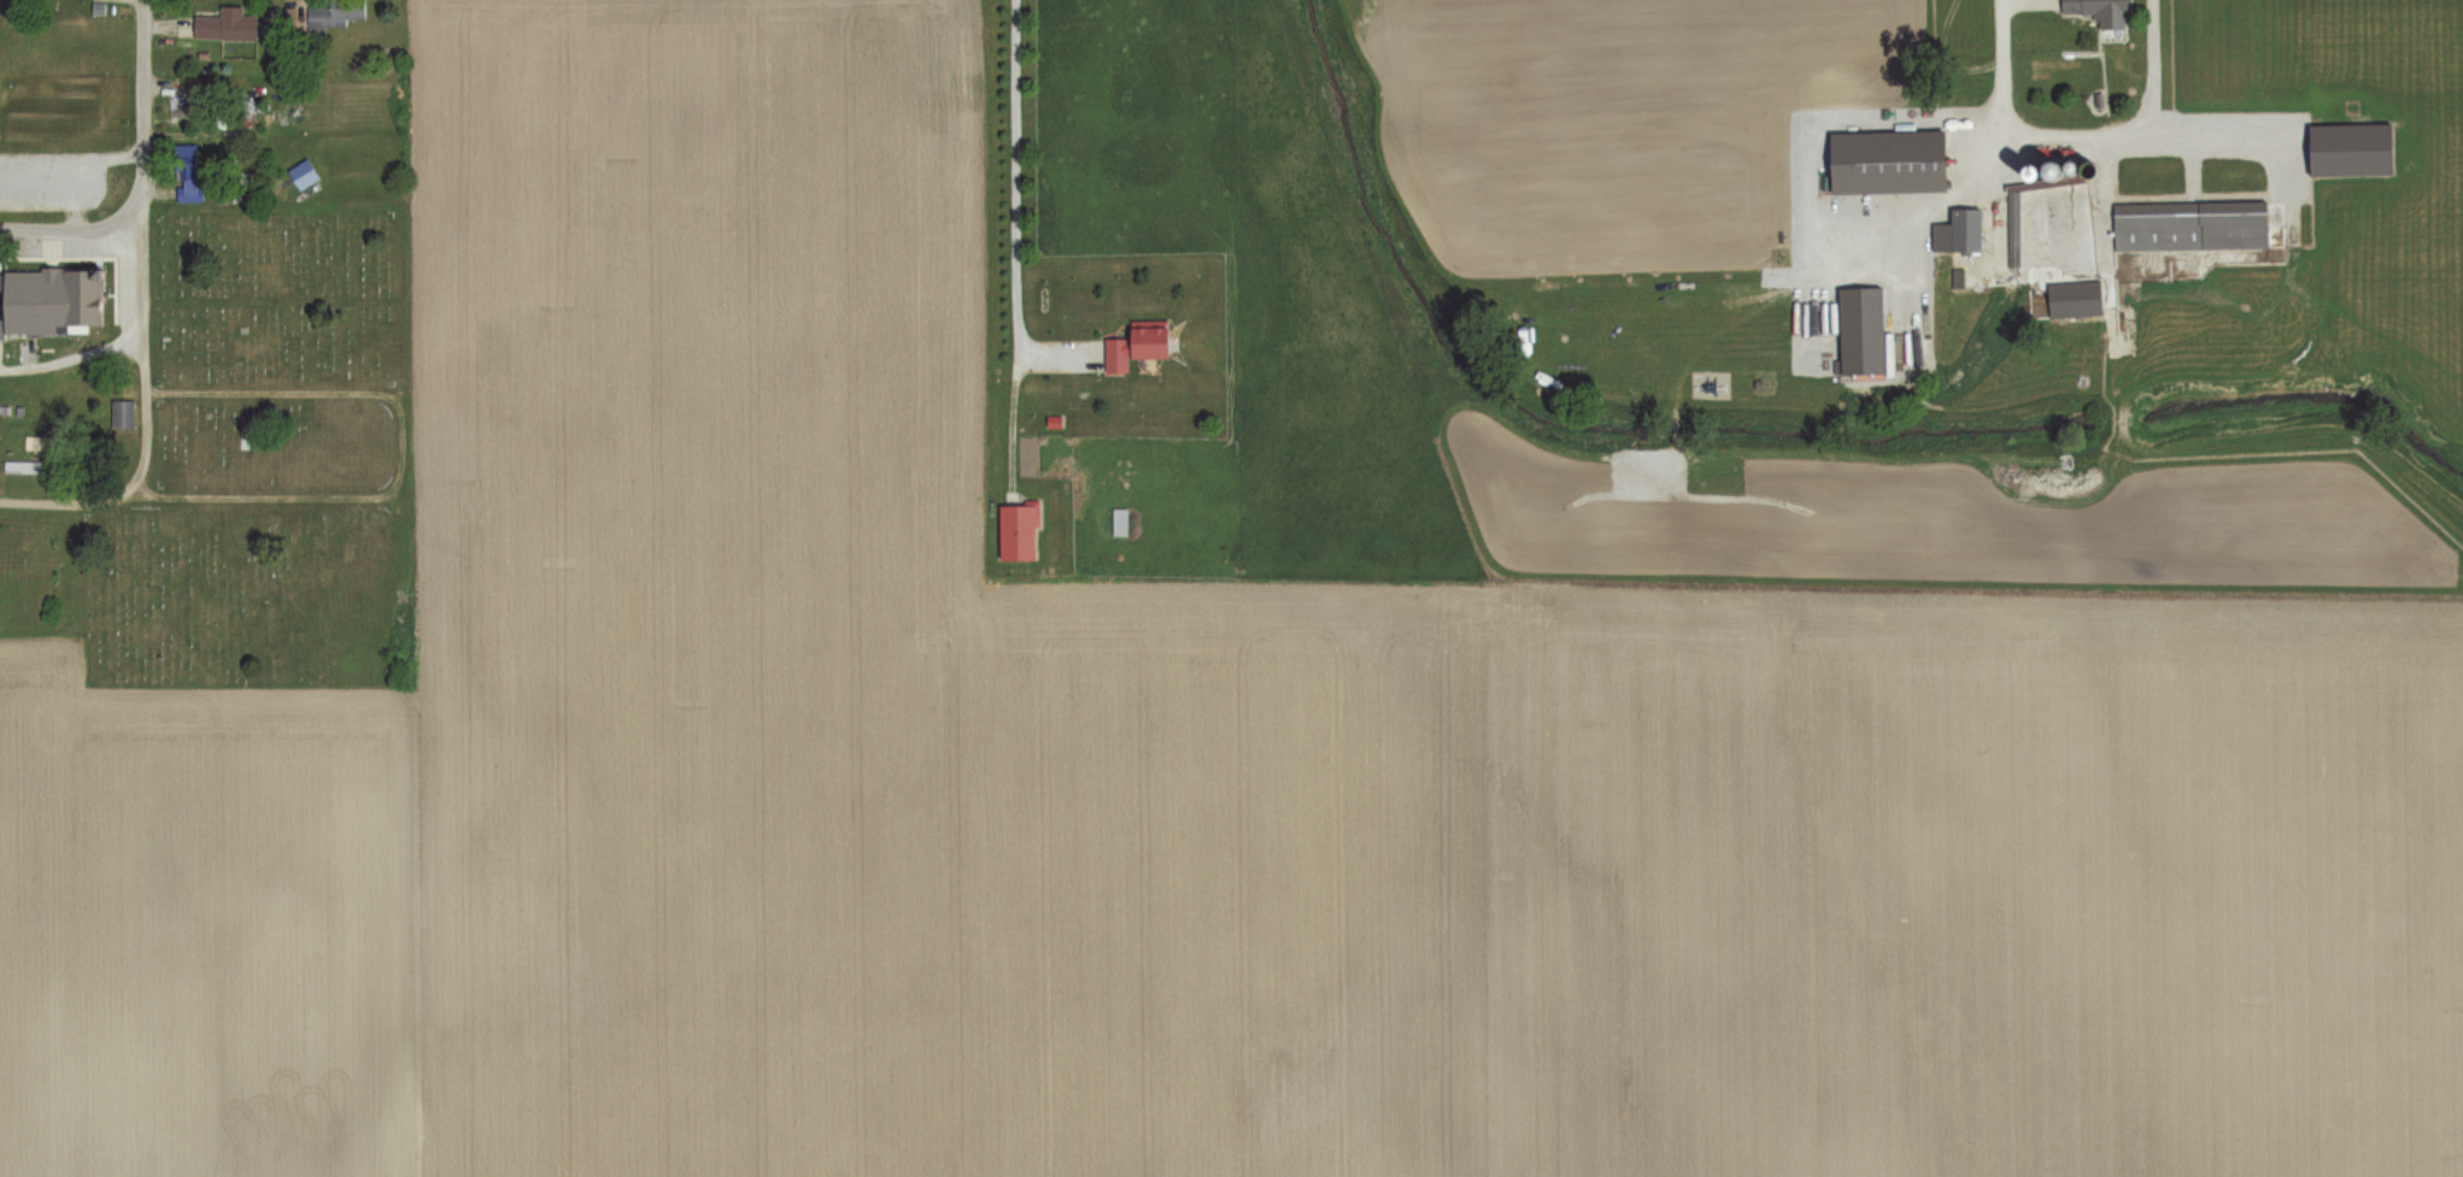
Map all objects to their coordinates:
building: (2100, 11)
building: (334, 16)
building: (227, 27)
building: (181, 108)
road: (2064, 134)
building: (1889, 163)
road: (137, 172)
building: (189, 173)
building: (92, 178)
road: (1019, 202)
building: (2191, 207)
road: (69, 235)
building: (0, 283)
building: (81, 301)
building: (1, 329)
building: (1149, 339)
building: (1116, 355)
road: (70, 360)
building: (123, 414)
building: (23, 467)
road: (133, 484)
building: (1120, 522)
building: (1019, 531)

